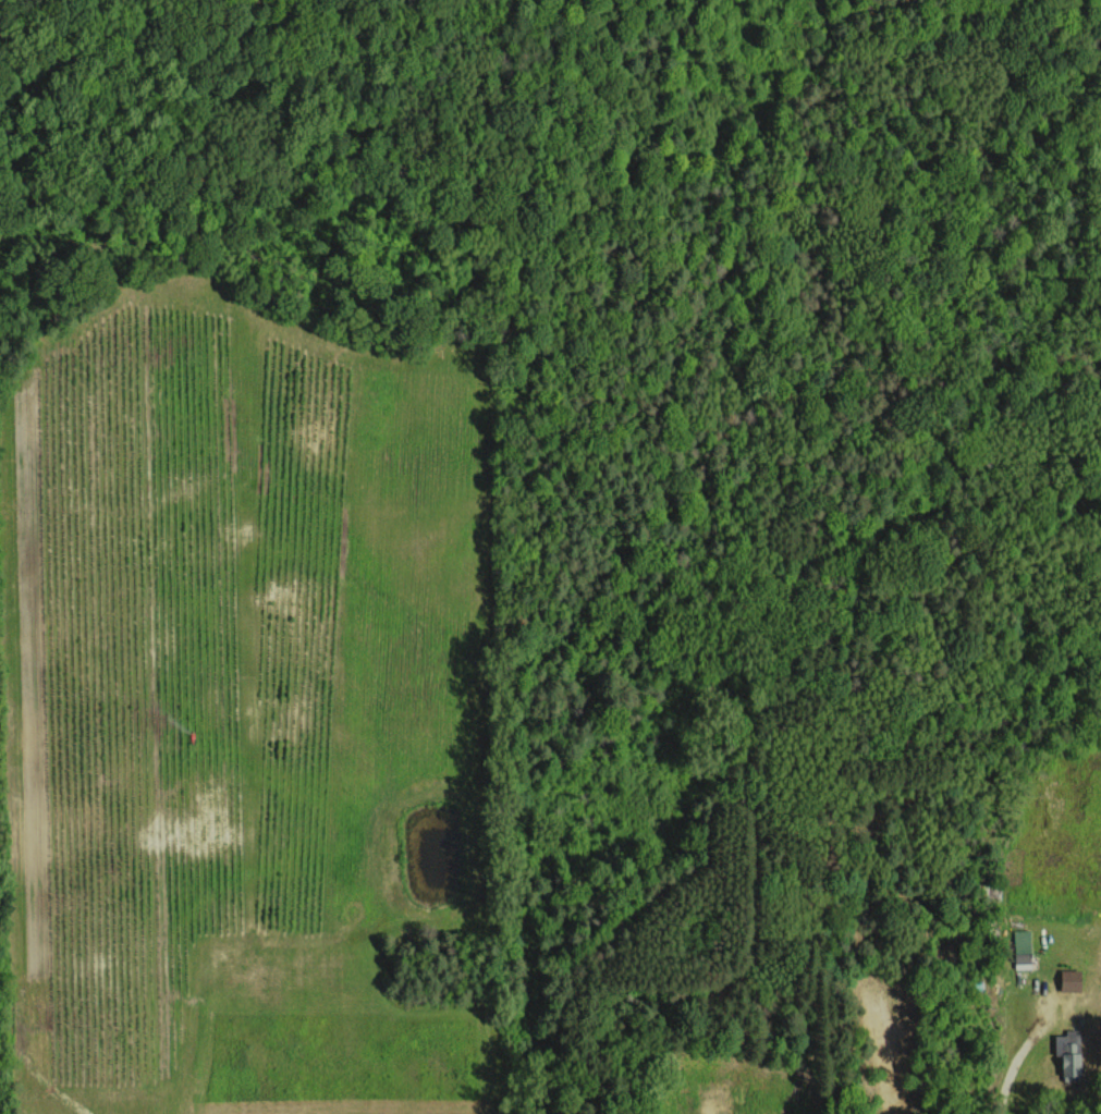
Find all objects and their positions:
building: (1022, 948)
building: (1068, 980)
building: (1067, 1053)
road: (1016, 1056)

